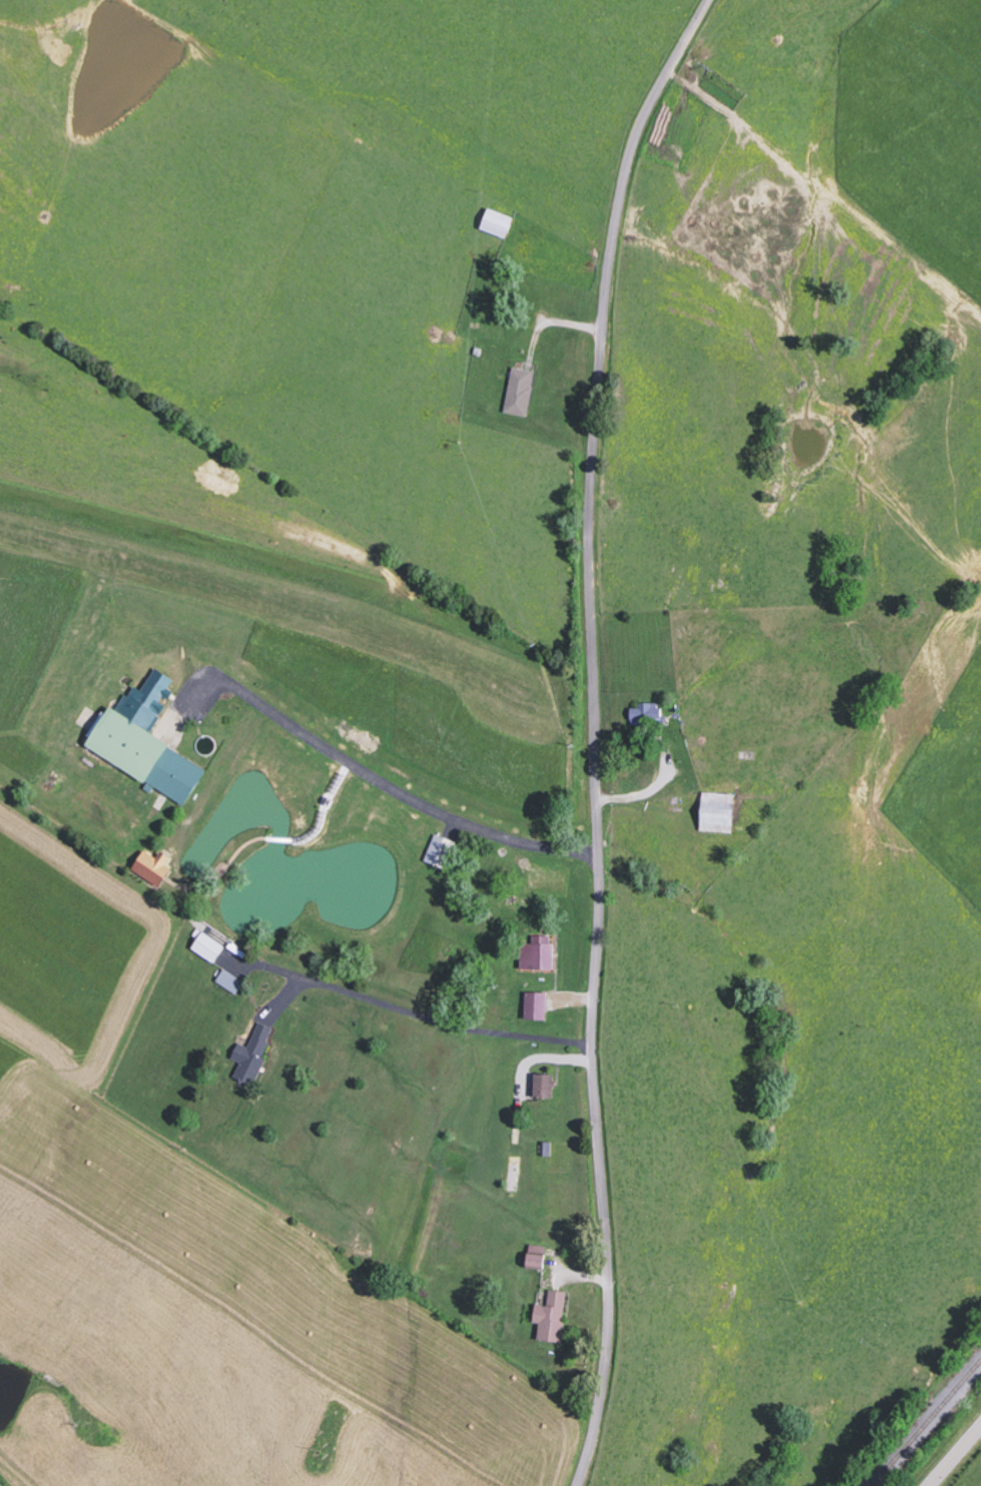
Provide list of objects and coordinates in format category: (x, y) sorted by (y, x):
building: (500, 224)
building: (522, 391)
building: (649, 714)
road: (593, 733)
building: (149, 745)
road: (381, 777)
building: (721, 812)
building: (442, 851)
building: (155, 867)
building: (210, 947)
building: (541, 953)
building: (231, 981)
building: (538, 1006)
building: (255, 1055)
building: (546, 1086)
building: (539, 1262)
building: (554, 1317)
railway: (927, 1424)
road: (956, 1457)

